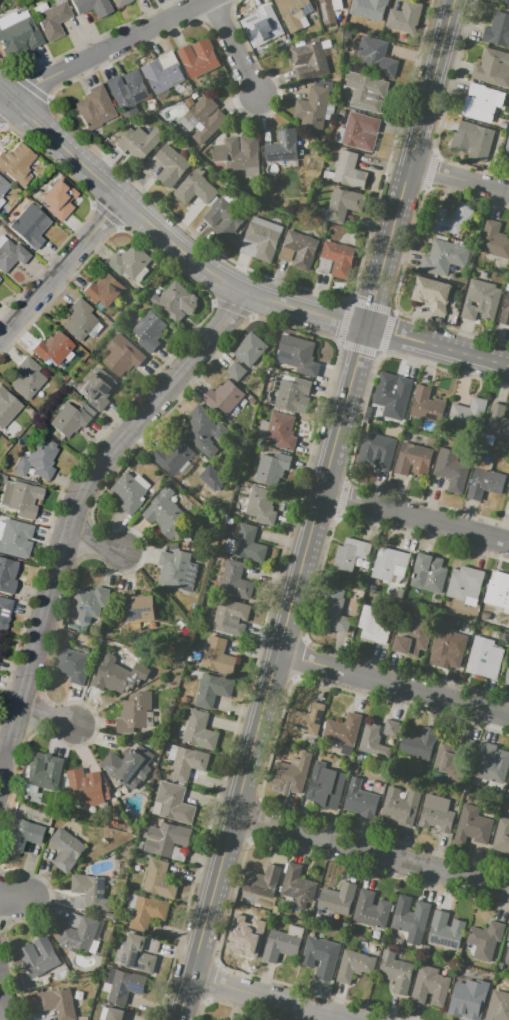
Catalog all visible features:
building: (504, 1)
building: (121, 2)
building: (92, 6)
building: (369, 8)
building: (327, 11)
building: (294, 12)
building: (405, 17)
building: (51, 18)
building: (264, 27)
building: (497, 29)
building: (19, 34)
road: (234, 48)
road: (103, 53)
building: (199, 57)
building: (376, 57)
building: (309, 60)
building: (493, 68)
building: (163, 72)
building: (127, 92)
building: (366, 92)
building: (482, 102)
building: (313, 105)
building: (95, 107)
building: (205, 119)
building: (360, 131)
building: (476, 139)
building: (139, 141)
building: (283, 146)
building: (507, 146)
building: (240, 154)
building: (17, 163)
building: (171, 164)
building: (349, 170)
road: (460, 179)
building: (3, 186)
building: (195, 188)
building: (58, 199)
building: (1, 200)
building: (344, 204)
building: (225, 217)
building: (451, 219)
building: (30, 225)
building: (261, 238)
building: (494, 240)
building: (301, 249)
building: (11, 255)
building: (444, 256)
building: (339, 258)
building: (130, 262)
road: (62, 271)
road: (225, 280)
building: (104, 290)
building: (432, 294)
building: (481, 300)
building: (174, 302)
building: (475, 304)
building: (505, 310)
building: (80, 320)
building: (149, 330)
building: (53, 347)
building: (251, 348)
building: (297, 353)
building: (122, 355)
building: (236, 370)
building: (28, 378)
building: (97, 388)
building: (392, 391)
building: (288, 393)
building: (223, 396)
building: (428, 404)
building: (7, 408)
building: (469, 411)
building: (70, 420)
building: (497, 422)
building: (203, 430)
building: (282, 430)
building: (379, 449)
building: (172, 454)
building: (413, 459)
building: (37, 460)
building: (272, 467)
building: (451, 469)
building: (485, 483)
building: (128, 493)
building: (508, 493)
building: (19, 497)
building: (261, 505)
road: (318, 510)
road: (76, 512)
building: (165, 513)
road: (415, 520)
building: (14, 537)
road: (94, 543)
building: (248, 543)
building: (349, 554)
building: (389, 565)
building: (177, 570)
building: (429, 573)
building: (7, 575)
building: (235, 580)
building: (465, 583)
building: (498, 589)
building: (89, 603)
building: (138, 610)
building: (332, 611)
building: (4, 612)
building: (230, 616)
building: (372, 624)
building: (0, 638)
building: (413, 639)
building: (447, 649)
building: (218, 655)
building: (484, 658)
building: (72, 665)
building: (112, 677)
building: (506, 677)
road: (393, 685)
building: (212, 689)
building: (134, 712)
road: (48, 717)
building: (305, 719)
building: (200, 730)
building: (342, 730)
building: (380, 736)
building: (418, 744)
building: (341, 748)
road: (3, 753)
building: (459, 757)
building: (184, 762)
building: (491, 764)
building: (129, 766)
building: (43, 770)
building: (290, 775)
building: (325, 785)
building: (508, 786)
building: (86, 787)
building: (360, 799)
building: (173, 803)
building: (400, 806)
building: (436, 813)
building: (472, 826)
building: (24, 834)
building: (502, 835)
building: (165, 838)
building: (66, 849)
road: (372, 852)
building: (159, 880)
building: (262, 881)
building: (297, 886)
building: (91, 891)
road: (13, 898)
building: (337, 898)
building: (371, 909)
building: (147, 912)
building: (411, 918)
building: (445, 929)
building: (248, 933)
building: (79, 934)
building: (508, 937)
building: (485, 939)
building: (280, 945)
building: (138, 954)
building: (320, 956)
building: (39, 957)
building: (507, 957)
building: (354, 965)
building: (396, 971)
building: (122, 985)
building: (430, 986)
building: (466, 997)
road: (271, 998)
road: (4, 1001)
building: (58, 1003)
building: (498, 1006)
building: (110, 1013)

